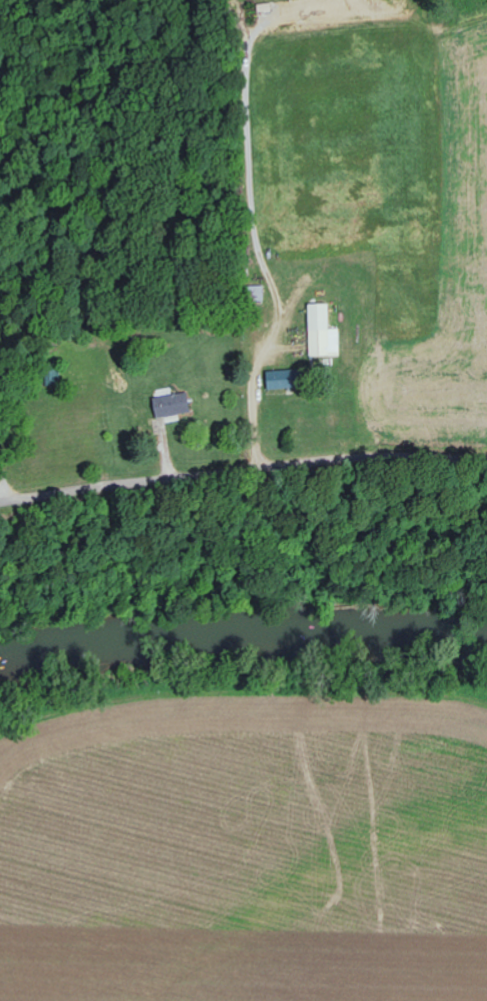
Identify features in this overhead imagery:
building: (324, 331)
building: (289, 378)
building: (175, 404)
road: (243, 468)
river: (243, 627)

